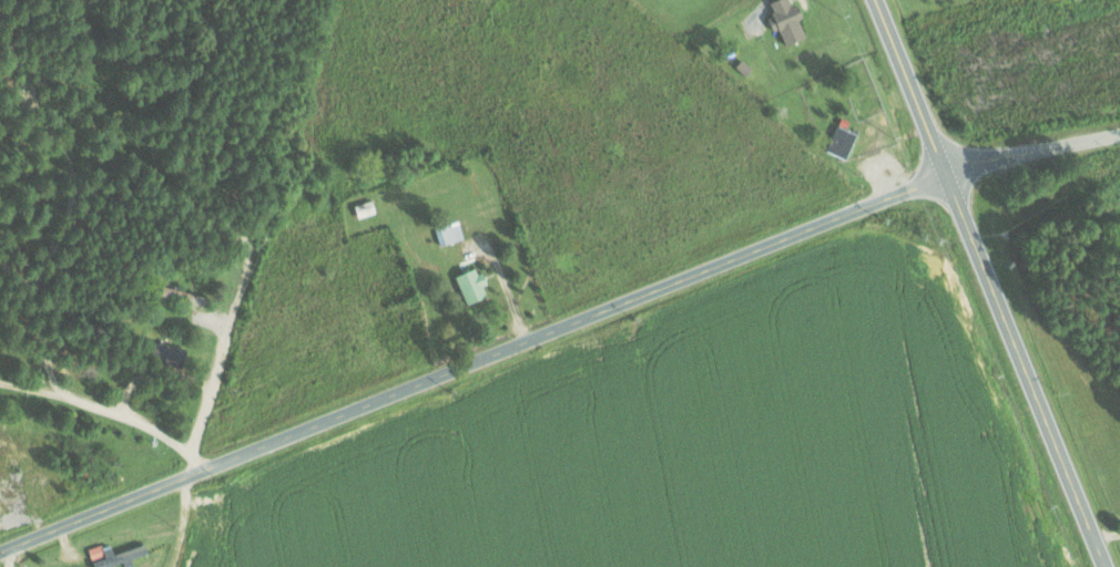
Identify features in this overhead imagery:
building: (787, 19)
building: (842, 141)
road: (1029, 150)
building: (365, 208)
building: (449, 231)
road: (988, 282)
building: (474, 285)
road: (40, 322)
road: (233, 329)
building: (167, 352)
road: (471, 365)
road: (111, 408)
building: (115, 555)

